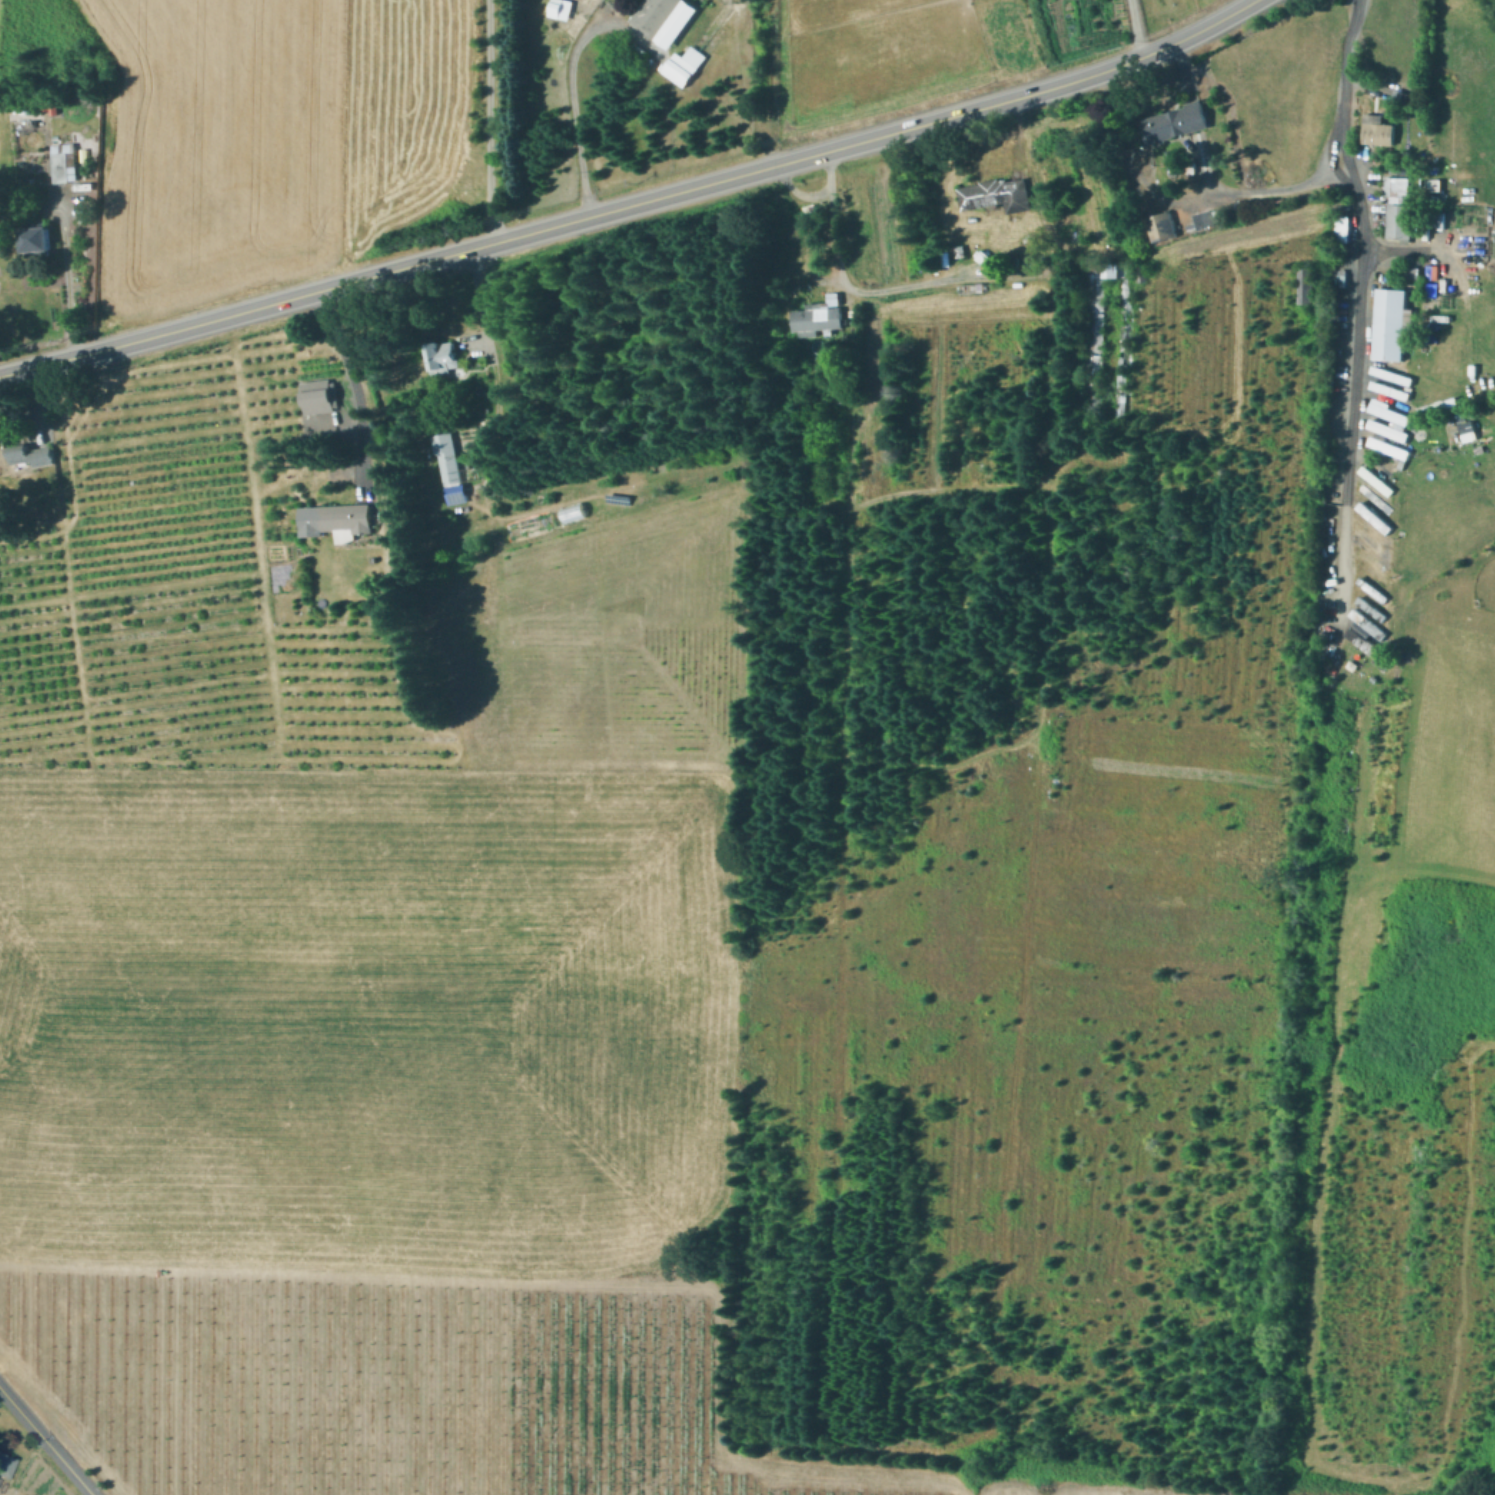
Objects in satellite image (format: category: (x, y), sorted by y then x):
building: (559, 8)
crop: (0, 12)
building: (656, 14)
building: (676, 23)
road: (1138, 28)
building: (682, 69)
road: (570, 76)
road: (488, 120)
building: (1177, 123)
building: (1380, 131)
crop: (272, 135)
building: (66, 162)
road: (1206, 168)
road: (1254, 191)
road: (802, 192)
building: (998, 195)
road: (633, 203)
building: (1400, 209)
building: (1205, 220)
building: (1161, 226)
building: (1344, 229)
road: (63, 236)
building: (39, 239)
building: (1143, 271)
building: (1306, 286)
road: (1463, 287)
road: (873, 291)
road: (478, 294)
building: (835, 298)
road: (1356, 315)
building: (818, 319)
building: (1393, 325)
building: (1097, 333)
building: (442, 356)
building: (1389, 374)
road: (353, 381)
building: (1386, 389)
building: (320, 397)
building: (1436, 403)
building: (1386, 412)
building: (1465, 425)
building: (1384, 429)
building: (1381, 444)
building: (32, 455)
building: (450, 455)
building: (1373, 479)
building: (459, 494)
building: (1372, 497)
building: (1371, 515)
building: (348, 521)
building: (401, 566)
building: (1368, 606)
building: (1365, 620)
crop: (617, 640)
building: (1365, 642)
road: (1412, 697)
crop: (373, 1130)
road: (1307, 1389)
road: (47, 1441)
building: (6, 1468)

